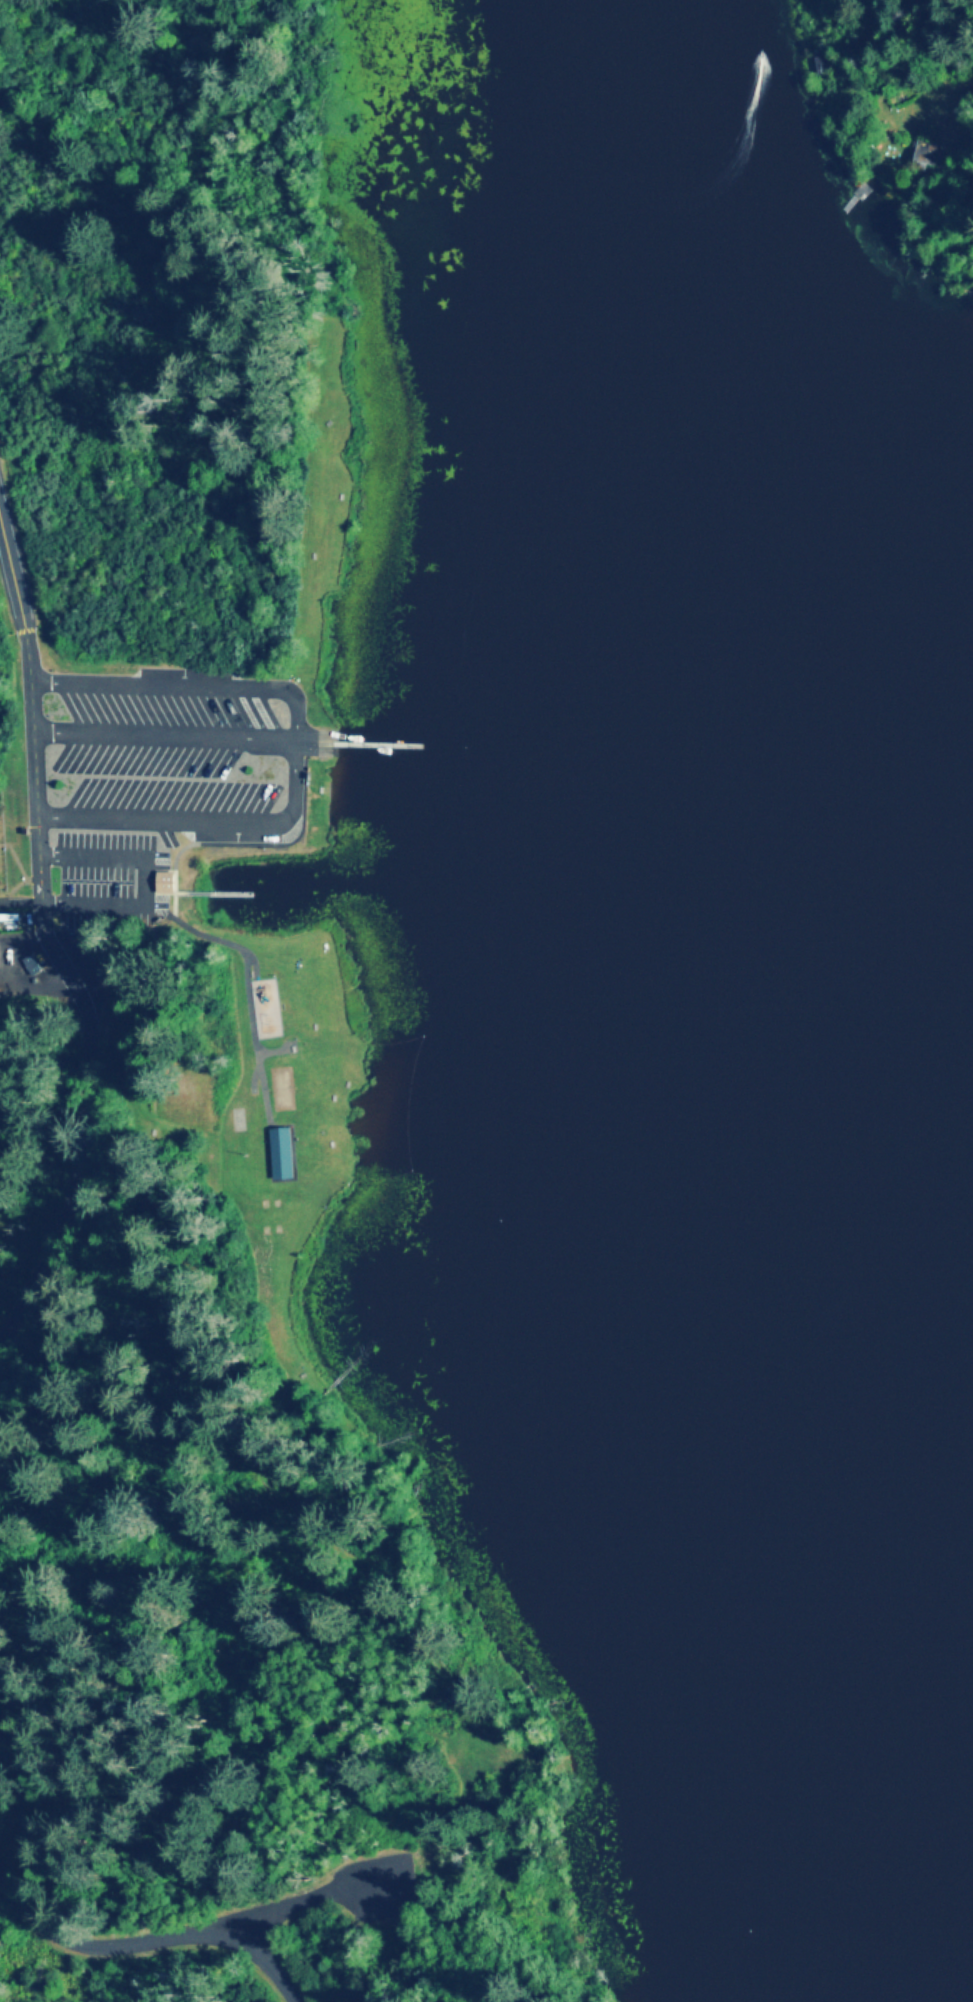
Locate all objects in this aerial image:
building: (794, 30)
building: (824, 65)
building: (805, 69)
building: (928, 155)
road: (33, 704)
road: (319, 736)
road: (167, 738)
pier: (374, 746)
road: (298, 752)
road: (320, 754)
parking lot: (140, 801)
road: (98, 859)
road: (96, 909)
building: (7, 917)
park: (187, 926)
road: (55, 948)
building: (283, 1155)
road: (83, 1176)
road: (328, 1900)
road: (150, 1943)

